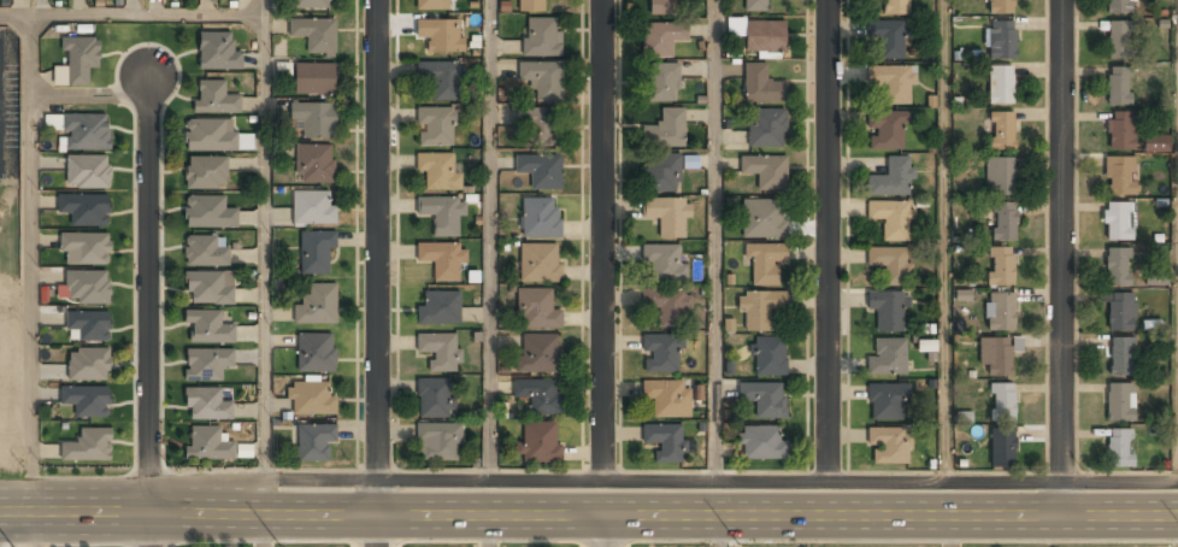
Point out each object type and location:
building: (312, 4)
building: (432, 5)
building: (531, 6)
building: (755, 6)
building: (1001, 6)
building: (664, 7)
building: (896, 7)
building: (1118, 7)
road: (132, 13)
building: (314, 35)
building: (440, 35)
building: (542, 37)
building: (765, 37)
building: (661, 39)
building: (887, 39)
building: (1000, 40)
building: (1118, 40)
building: (217, 52)
building: (77, 61)
building: (441, 78)
building: (314, 80)
building: (542, 80)
building: (661, 83)
building: (891, 83)
building: (761, 86)
building: (1000, 86)
building: (1118, 86)
building: (214, 99)
building: (314, 120)
building: (536, 124)
building: (436, 127)
building: (766, 128)
building: (665, 130)
building: (887, 130)
building: (1119, 130)
building: (1000, 131)
building: (86, 133)
building: (210, 136)
building: (1155, 143)
building: (313, 164)
building: (540, 170)
building: (438, 171)
building: (765, 171)
building: (87, 172)
building: (206, 173)
building: (661, 173)
building: (1000, 177)
building: (1119, 177)
building: (891, 178)
building: (313, 207)
building: (84, 210)
building: (208, 212)
building: (442, 214)
building: (541, 217)
building: (667, 217)
building: (764, 219)
building: (891, 219)
building: (1005, 222)
building: (1118, 222)
road: (488, 240)
road: (602, 240)
road: (713, 240)
road: (827, 240)
road: (942, 240)
road: (266, 241)
building: (84, 249)
building: (205, 252)
building: (316, 252)
road: (1062, 258)
building: (441, 260)
building: (764, 261)
road: (31, 263)
building: (540, 263)
building: (664, 264)
building: (891, 264)
building: (1000, 266)
building: (1118, 267)
road: (381, 273)
building: (1155, 278)
building: (84, 288)
building: (210, 289)
road: (148, 293)
building: (317, 304)
building: (666, 306)
building: (759, 307)
building: (438, 308)
building: (538, 310)
building: (887, 311)
building: (999, 312)
building: (1120, 312)
building: (87, 327)
building: (207, 328)
building: (926, 345)
building: (440, 351)
building: (316, 352)
building: (660, 353)
building: (540, 354)
building: (768, 355)
building: (995, 355)
building: (1120, 357)
building: (887, 358)
building: (207, 364)
building: (88, 365)
building: (540, 396)
building: (666, 396)
building: (311, 398)
building: (434, 398)
building: (764, 399)
building: (87, 401)
building: (887, 401)
building: (1119, 401)
building: (1001, 402)
building: (207, 406)
building: (313, 441)
building: (665, 441)
building: (437, 442)
building: (761, 442)
building: (540, 443)
building: (207, 445)
building: (888, 446)
building: (87, 447)
building: (1001, 447)
building: (1119, 448)
road: (695, 481)
road: (75, 512)
road: (662, 514)
road: (36, 529)
road: (149, 530)
road: (264, 530)
road: (489, 530)
road: (605, 530)
road: (719, 531)
road: (950, 531)
power tower: (287, 542)
power tower: (744, 543)

